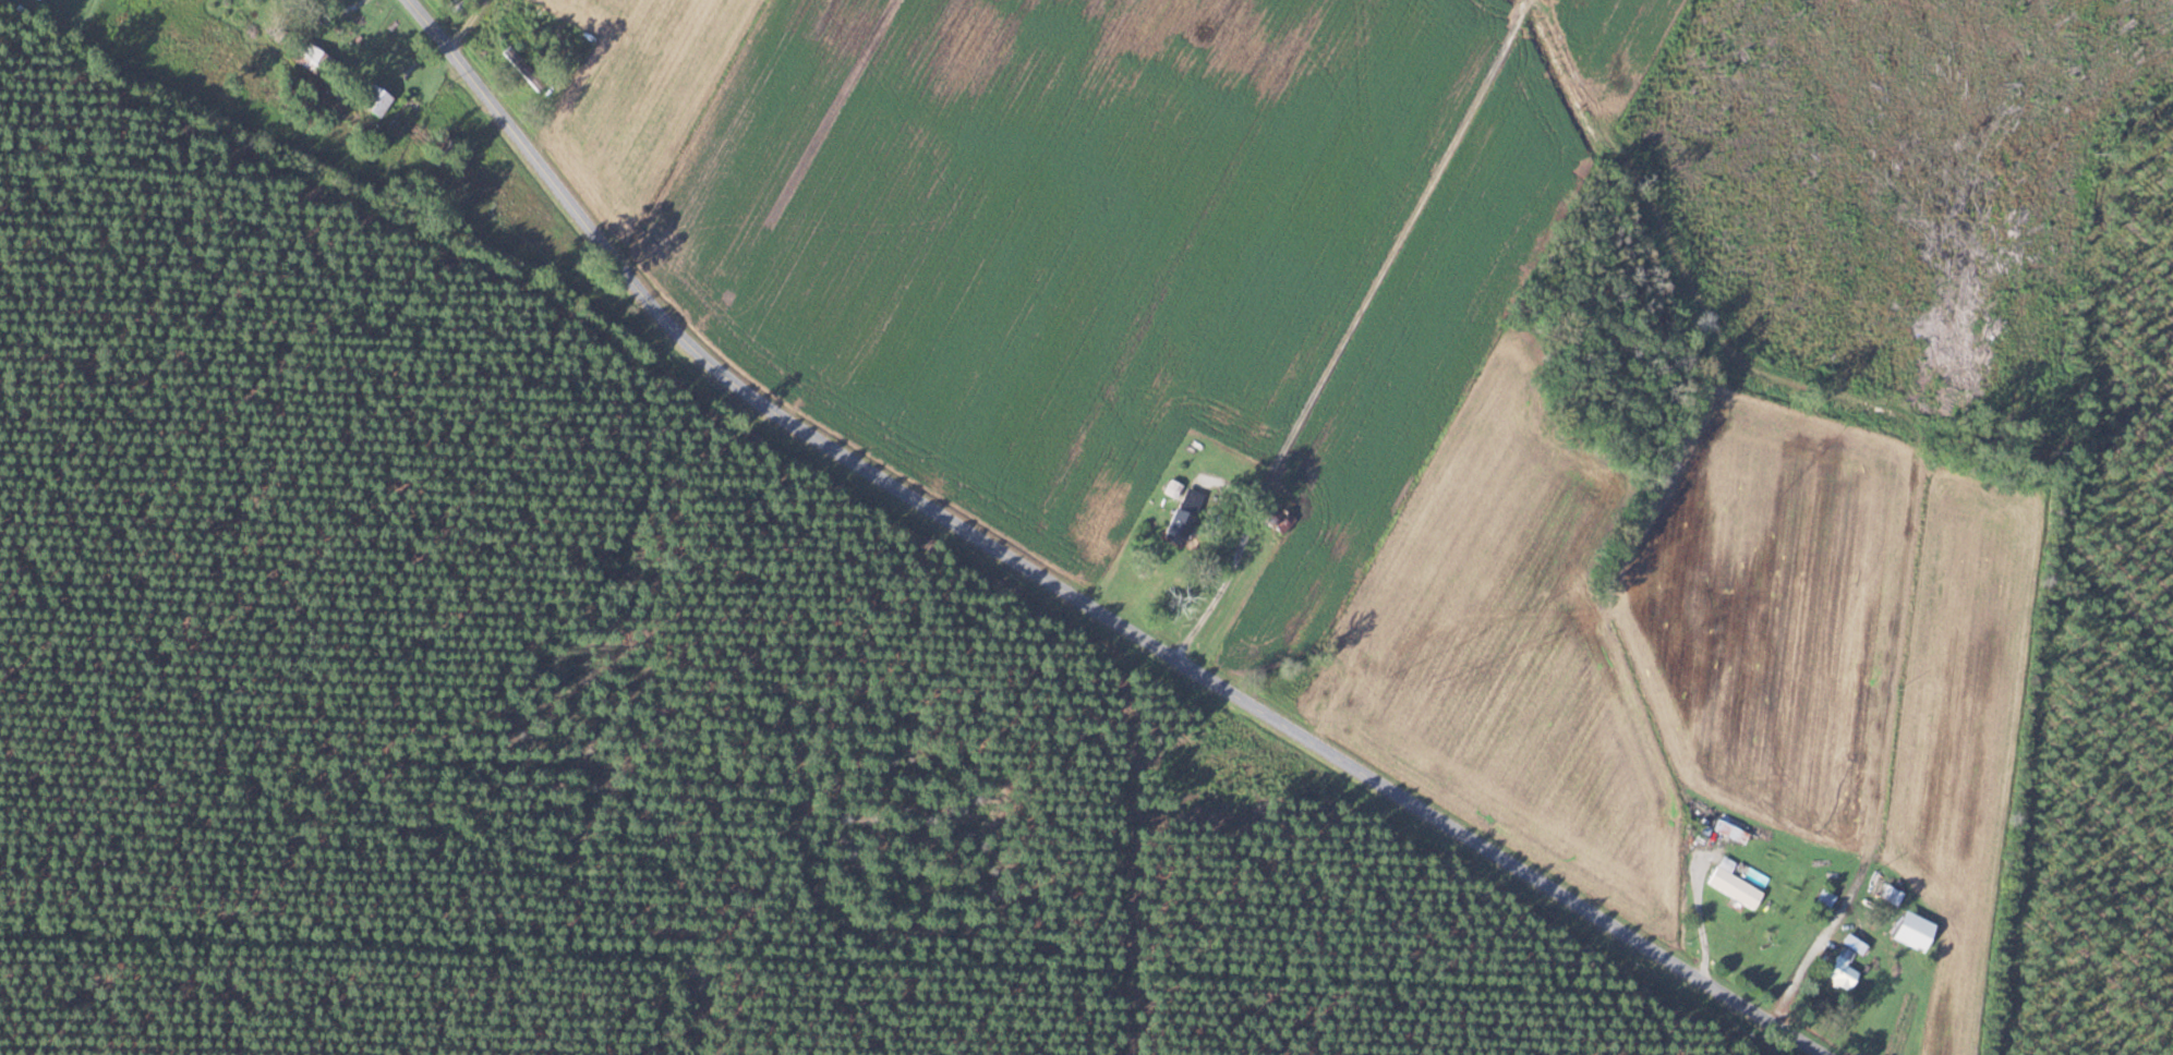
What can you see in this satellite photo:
building: (458, 9)
road: (464, 25)
building: (514, 58)
building: (373, 101)
building: (442, 154)
building: (1173, 488)
building: (1275, 516)
building: (1181, 533)
road: (1072, 589)
building: (1730, 832)
building: (1733, 884)
building: (1826, 898)
building: (1842, 968)

